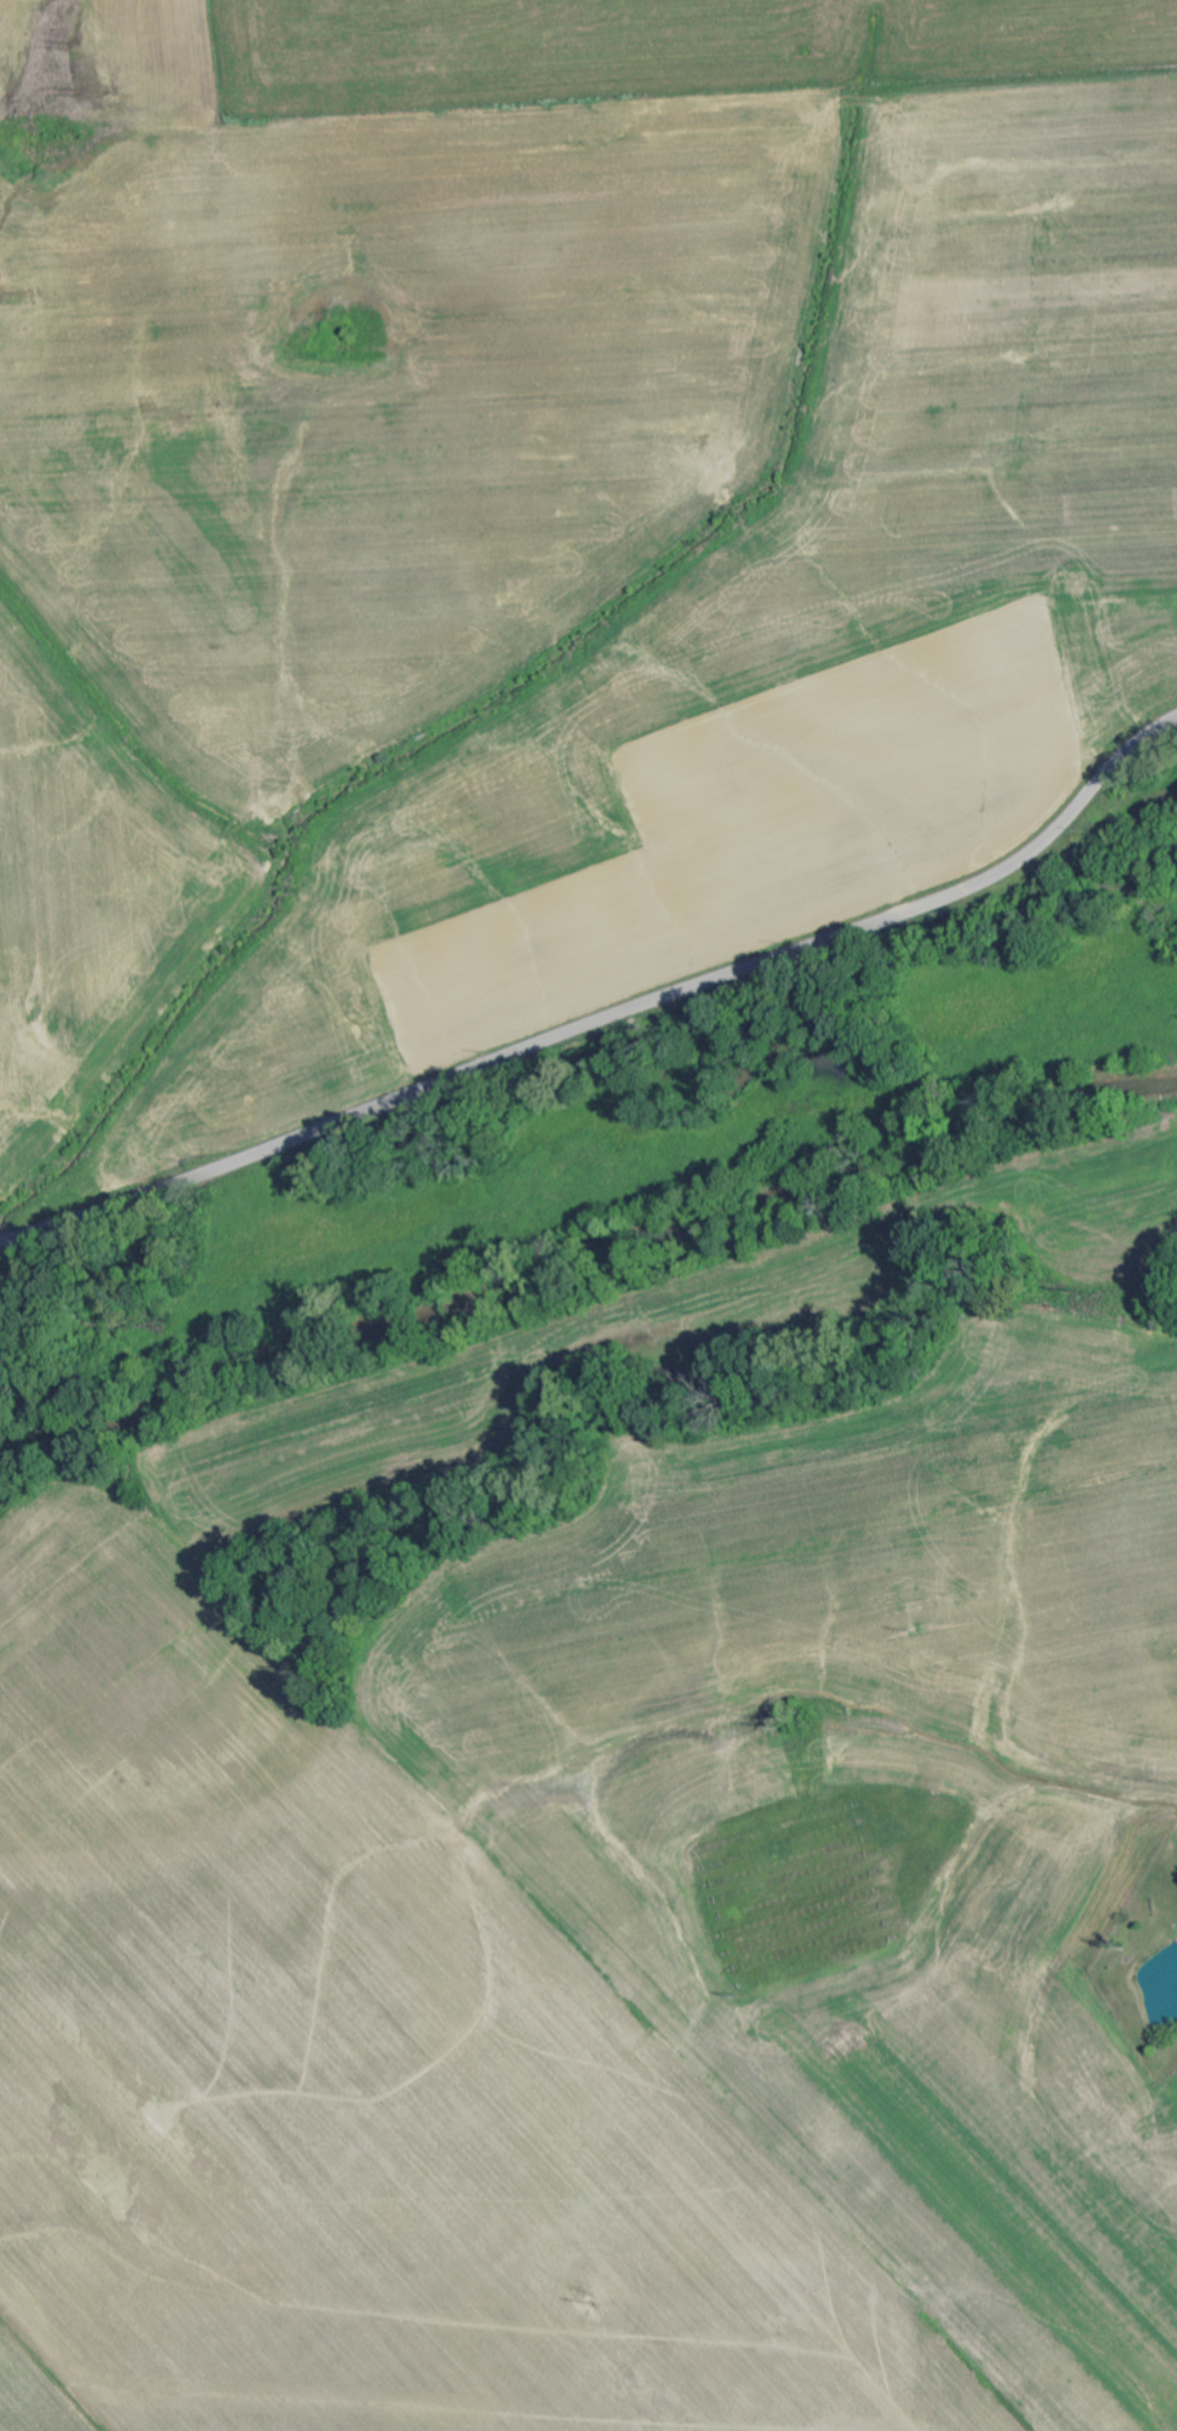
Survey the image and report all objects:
road: (610, 1019)

